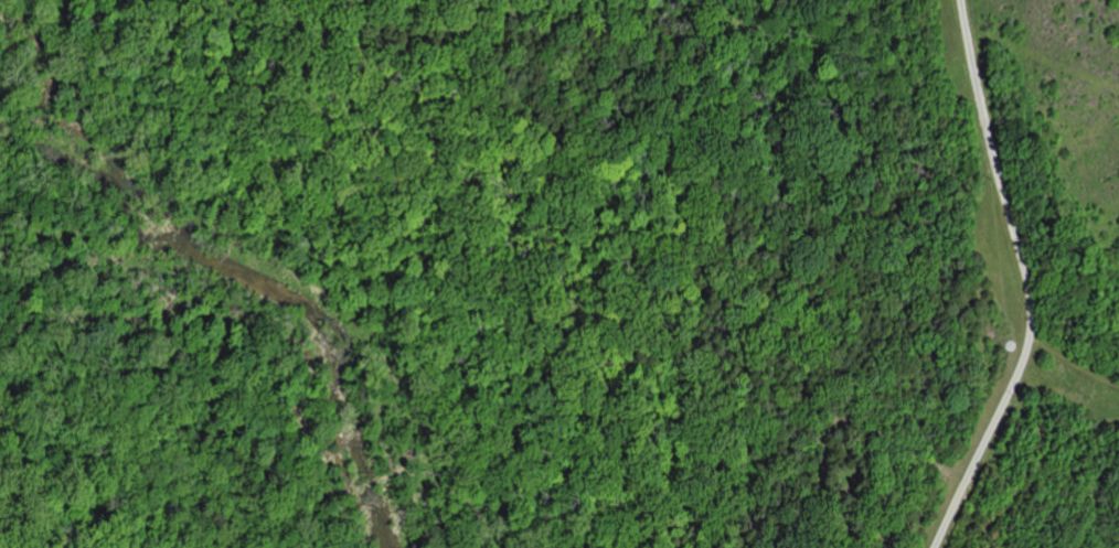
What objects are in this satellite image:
road: (1073, 247)
road: (1026, 280)

